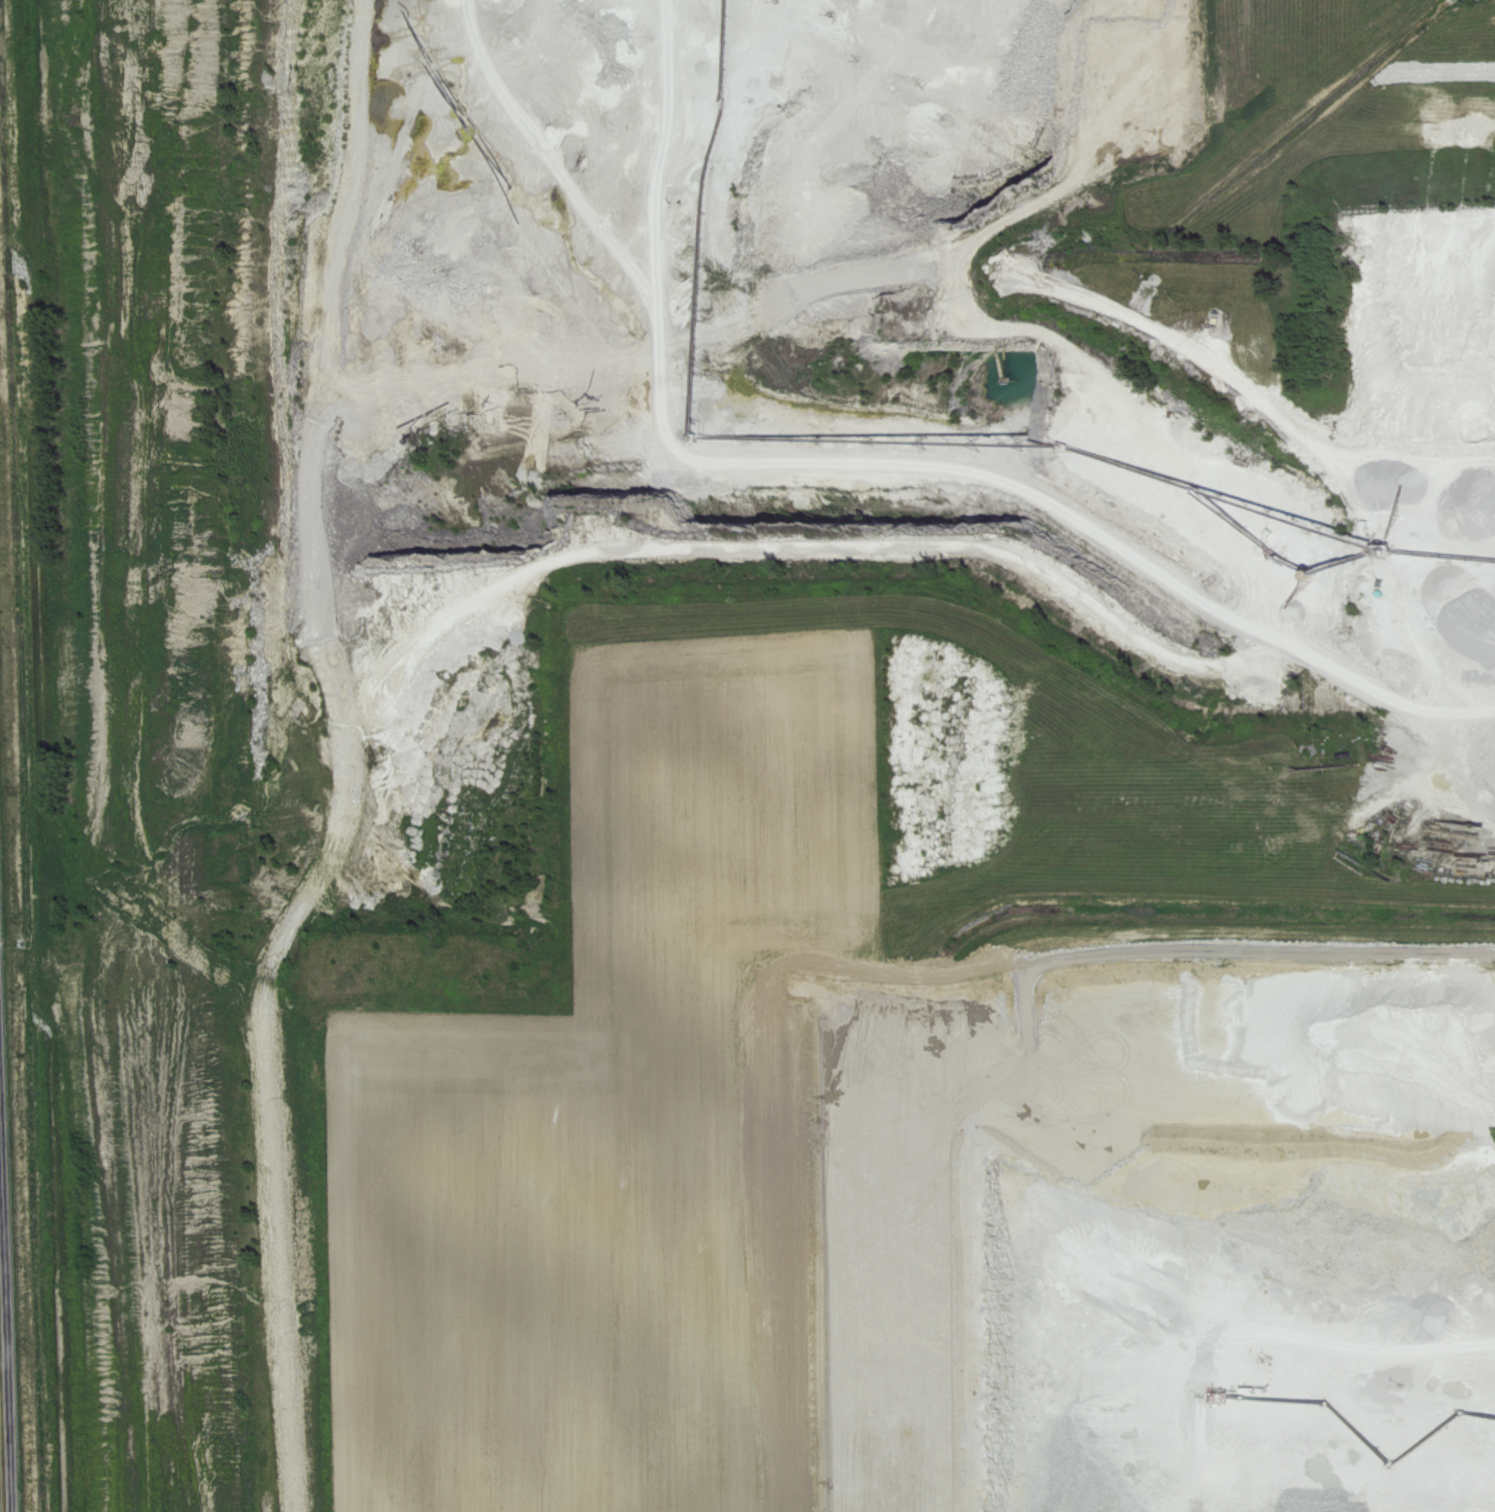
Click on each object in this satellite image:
quarry: (669, 670)
quarry: (1203, 1220)
road: (6, 1297)

